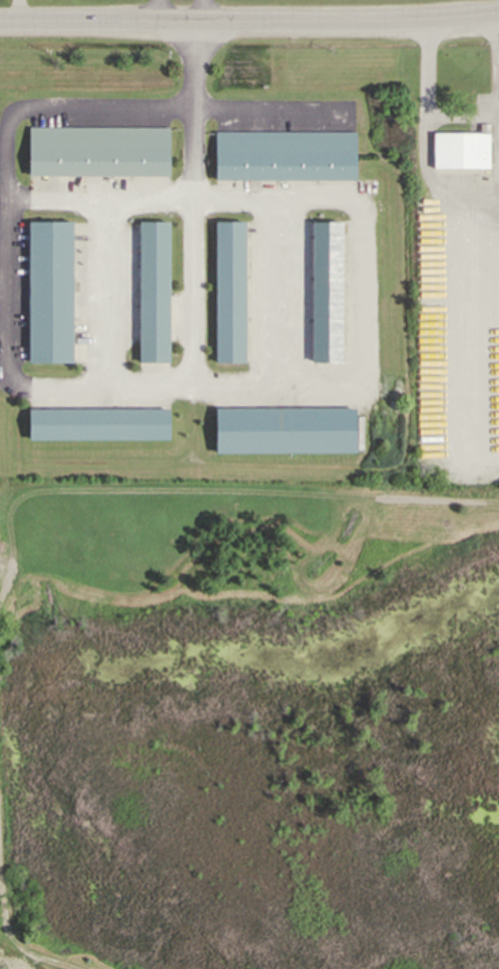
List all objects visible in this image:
road: (249, 23)
road: (496, 60)
road: (424, 143)
building: (460, 150)
building: (98, 154)
building: (284, 156)
road: (100, 188)
road: (192, 283)
building: (230, 290)
building: (326, 290)
building: (153, 291)
building: (49, 292)
road: (471, 345)
road: (224, 376)
building: (97, 424)
building: (274, 428)
road: (194, 489)
road: (4, 928)
road: (41, 943)

